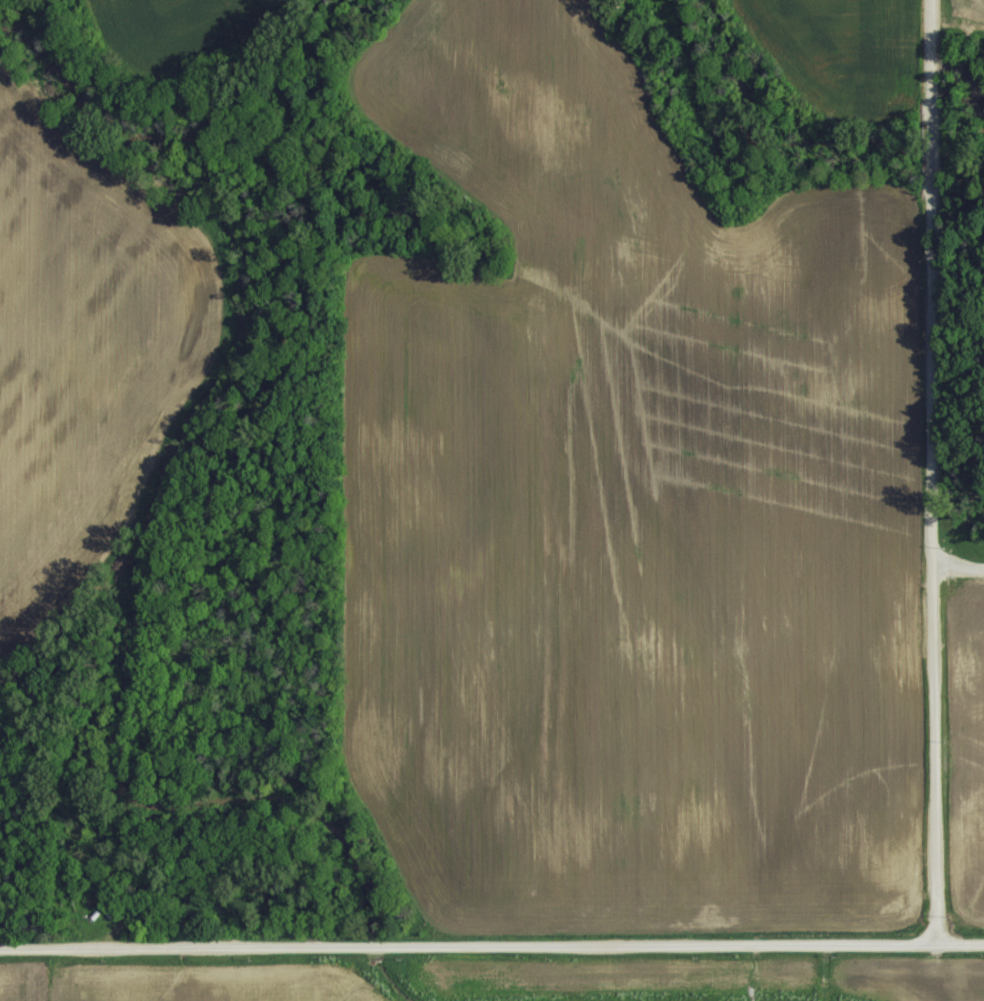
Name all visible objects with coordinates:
road: (930, 469)
road: (957, 564)
road: (491, 936)

